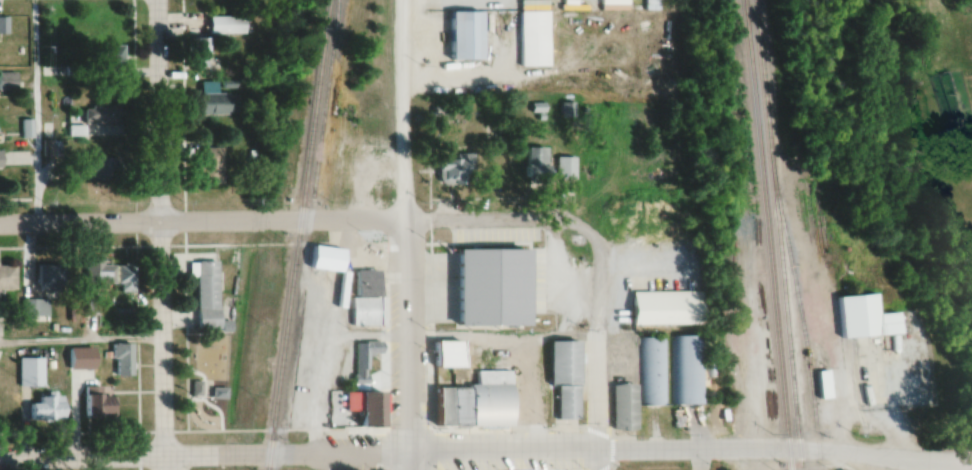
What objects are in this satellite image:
building: (224, 25)
building: (532, 32)
building: (462, 36)
building: (198, 53)
building: (108, 56)
building: (7, 82)
road: (968, 82)
building: (215, 105)
road: (34, 114)
building: (101, 115)
building: (437, 115)
building: (26, 129)
building: (948, 135)
building: (208, 166)
building: (565, 168)
building: (99, 169)
building: (452, 171)
river: (879, 180)
road: (293, 219)
road: (408, 225)
road: (161, 234)
railway: (298, 235)
railway: (768, 235)
railway: (775, 235)
building: (326, 256)
building: (446, 257)
building: (111, 276)
building: (6, 278)
building: (50, 278)
building: (365, 280)
railway: (338, 281)
building: (494, 282)
building: (206, 295)
building: (665, 304)
railway: (798, 306)
building: (33, 308)
building: (308, 320)
building: (866, 340)
road: (80, 343)
road: (599, 346)
building: (446, 354)
building: (565, 358)
building: (306, 359)
building: (122, 360)
building: (684, 366)
building: (651, 368)
building: (29, 373)
building: (824, 381)
building: (365, 388)
building: (474, 402)
building: (96, 406)
building: (623, 408)
building: (46, 409)
road: (786, 449)
road: (505, 450)
road: (204, 454)
road: (700, 459)
road: (757, 459)
road: (410, 461)
road: (843, 461)

